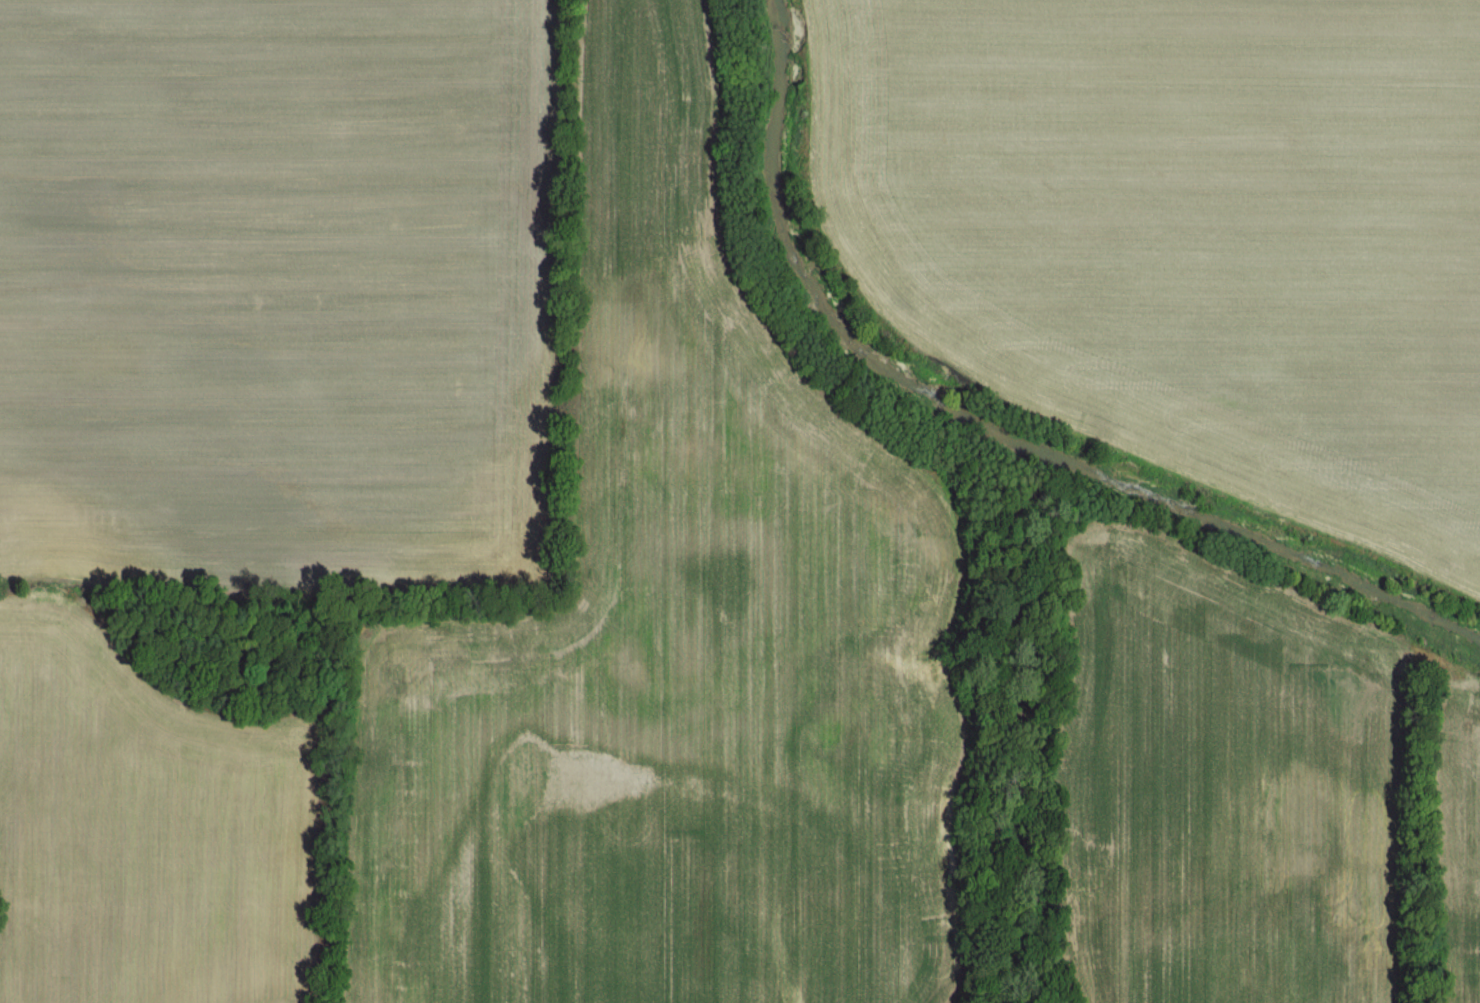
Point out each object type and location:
river: (994, 421)

